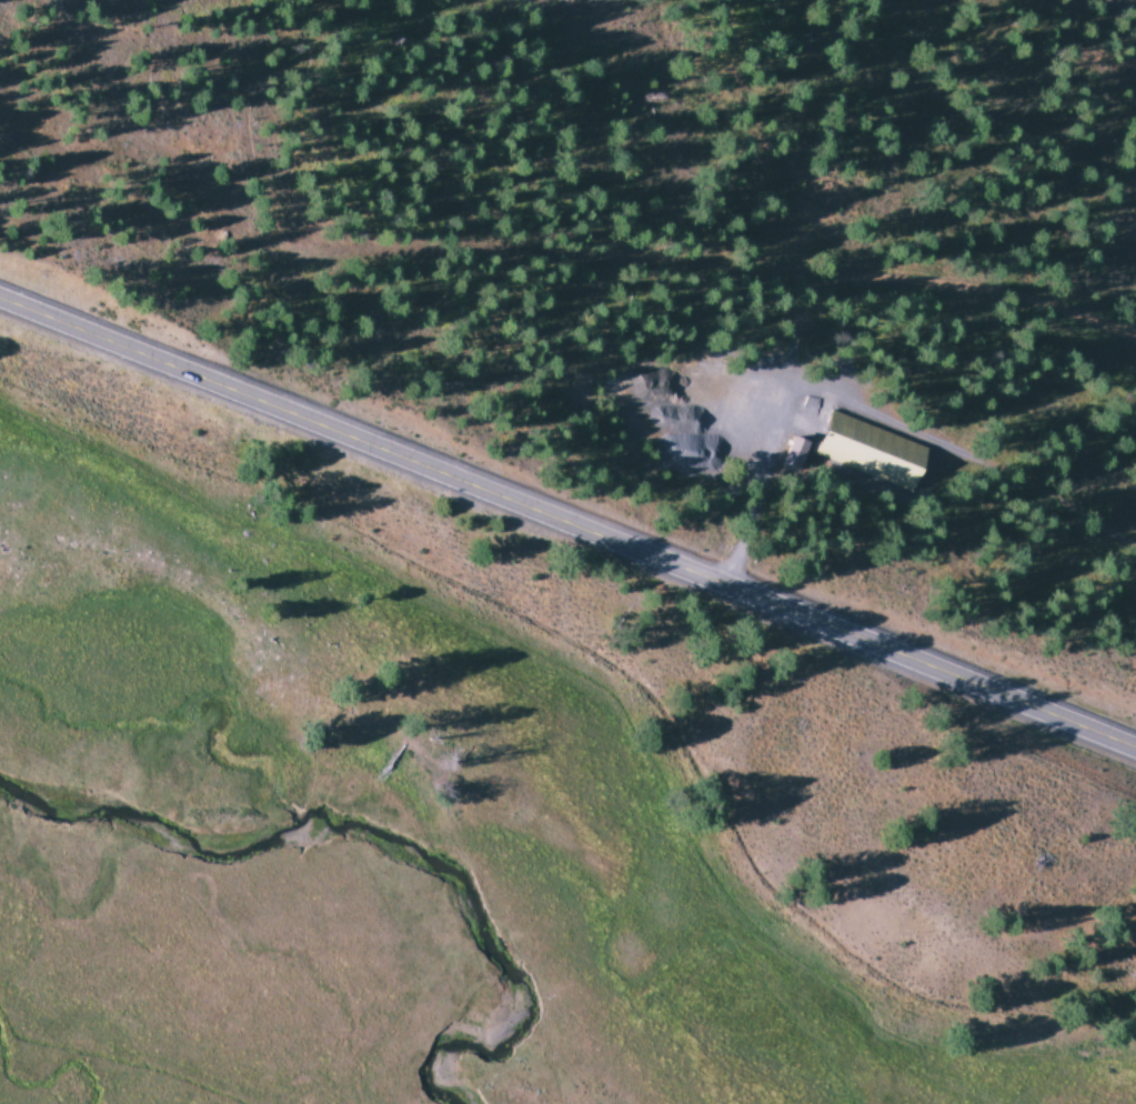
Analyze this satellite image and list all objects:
building: (847, 434)
road: (567, 521)

